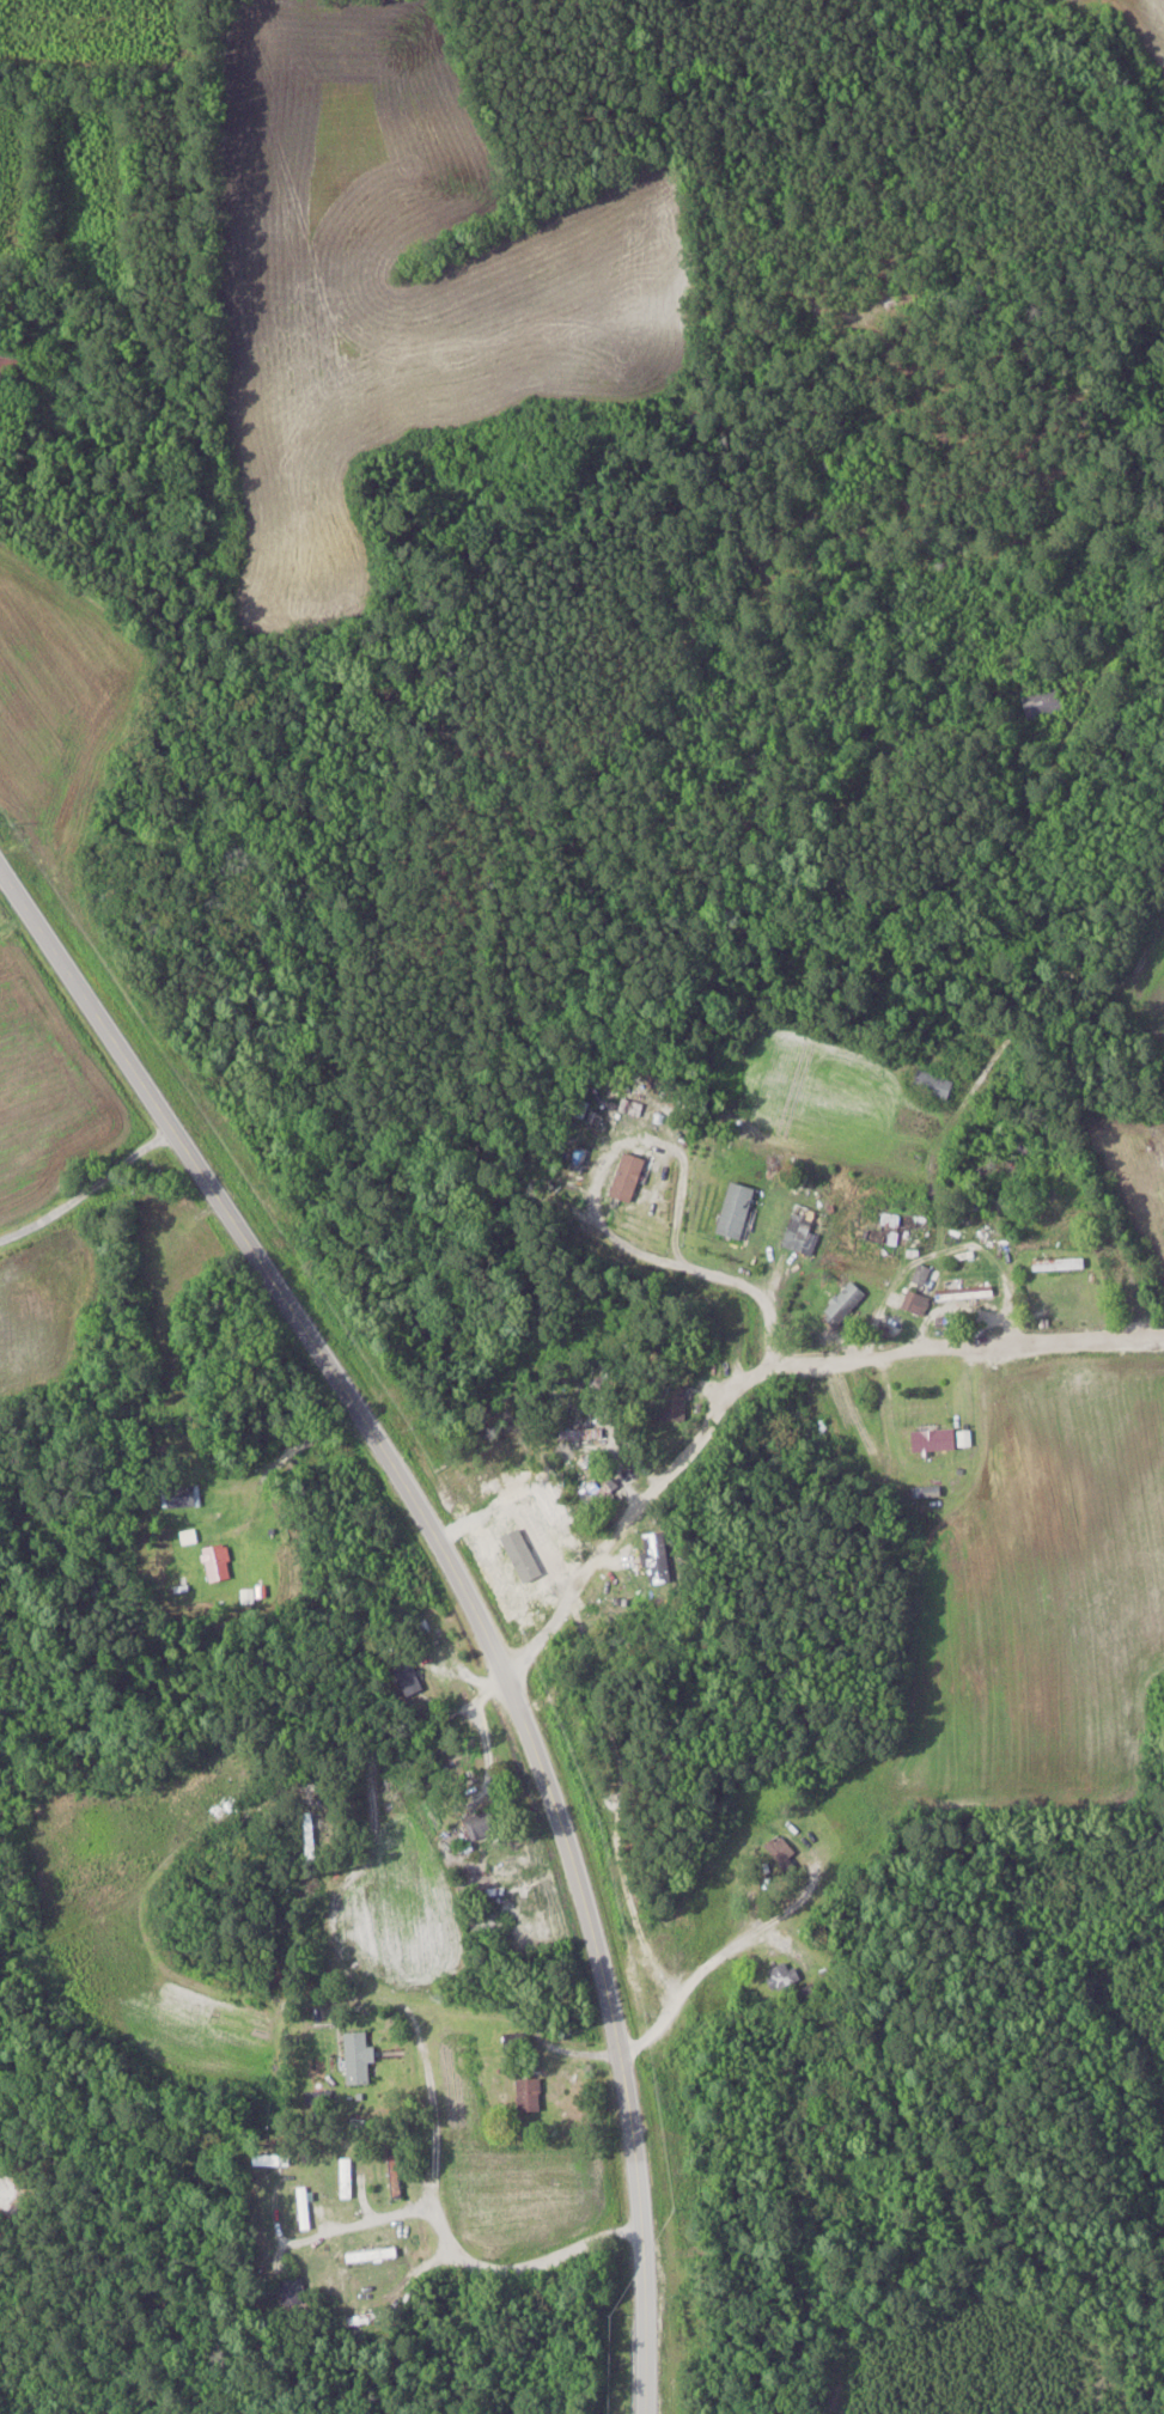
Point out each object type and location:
road: (170, 251)
building: (11, 362)
building: (1044, 703)
building: (261, 770)
building: (934, 1084)
road: (85, 1172)
building: (629, 1177)
building: (737, 1209)
building: (1059, 1264)
road: (709, 1273)
building: (965, 1293)
building: (916, 1303)
building: (843, 1304)
road: (761, 1372)
building: (676, 1404)
building: (591, 1432)
building: (936, 1441)
road: (291, 1452)
building: (182, 1498)
building: (548, 1526)
building: (658, 1559)
building: (219, 1563)
road: (461, 1589)
building: (408, 1671)
building: (482, 1825)
building: (311, 1840)
building: (784, 1853)
building: (498, 1895)
building: (784, 1976)
road: (691, 1987)
building: (359, 2058)
building: (530, 2095)
building: (819, 2125)
building: (273, 2159)
building: (395, 2175)
building: (346, 2178)
building: (304, 2209)
building: (373, 2255)
road: (451, 2257)
building: (293, 2292)
building: (365, 2318)

